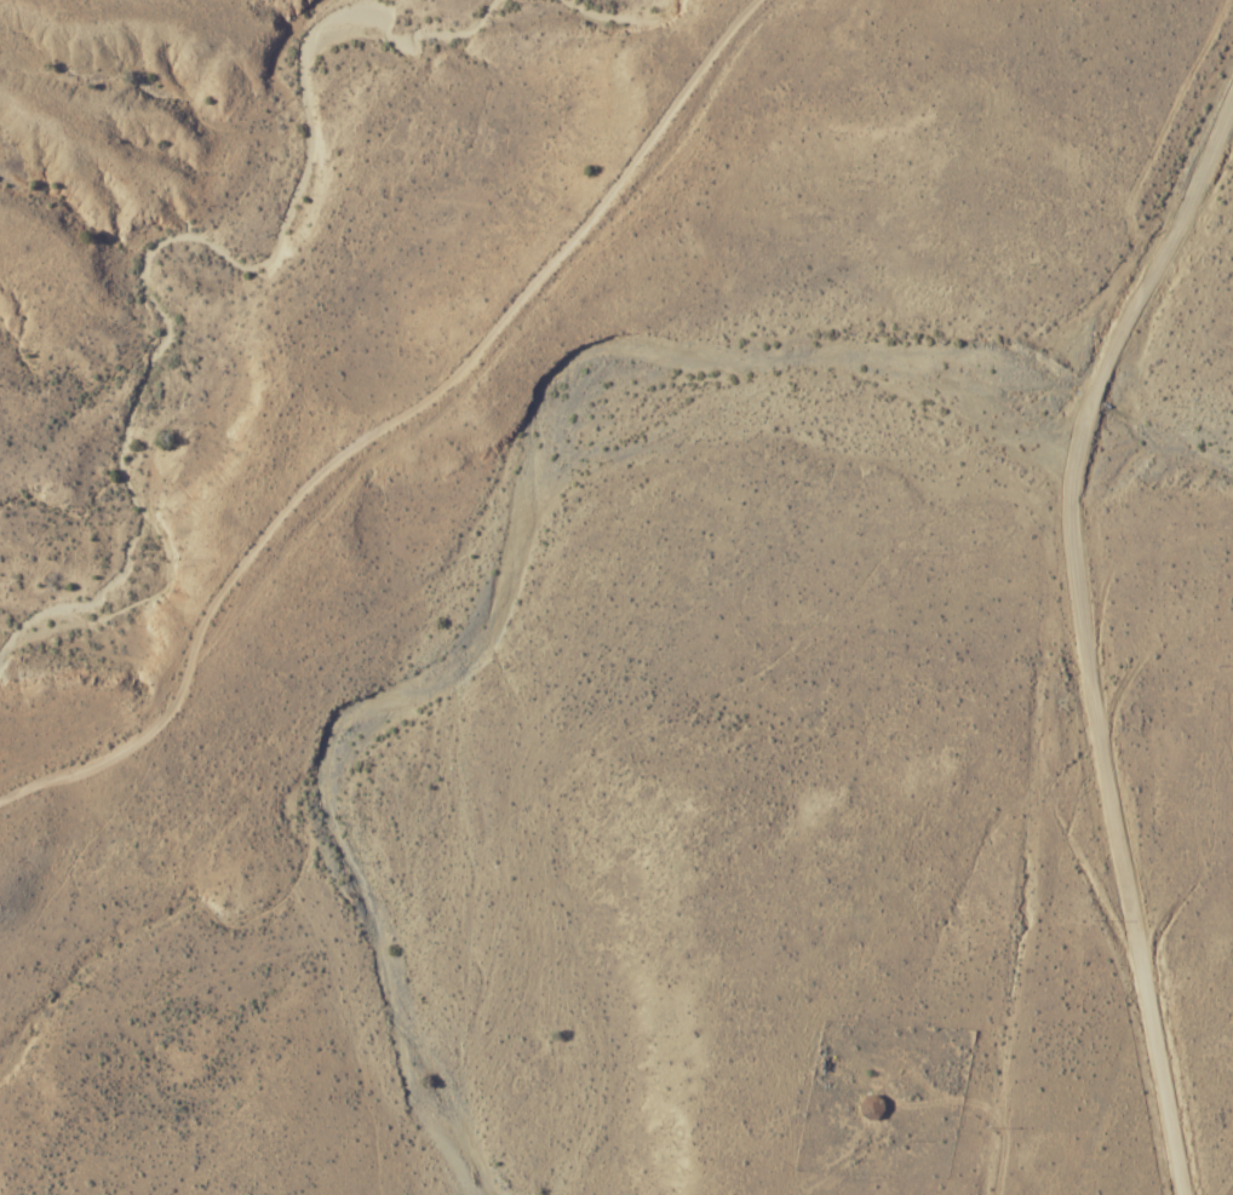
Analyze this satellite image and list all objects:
road: (1142, 289)
road: (389, 421)
river: (504, 541)
road: (1019, 843)
road: (1122, 845)
building: (871, 1107)

